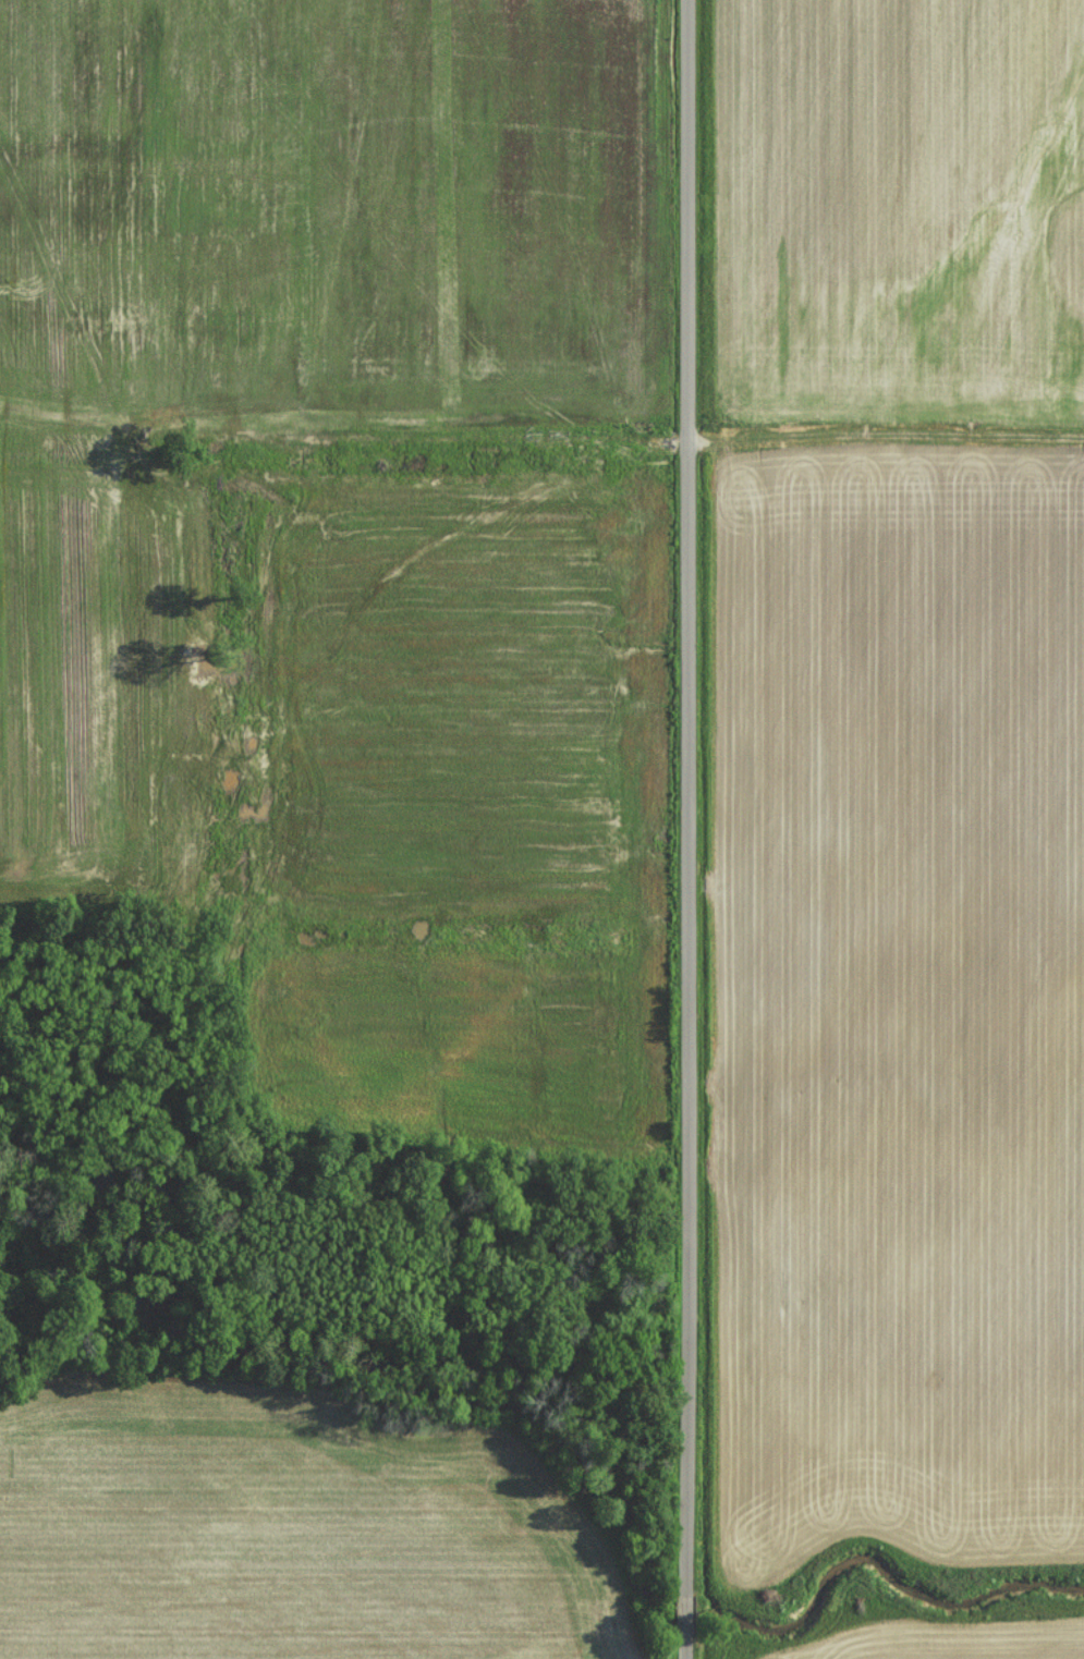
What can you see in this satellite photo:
road: (684, 797)
road: (684, 1615)
road: (683, 1647)

